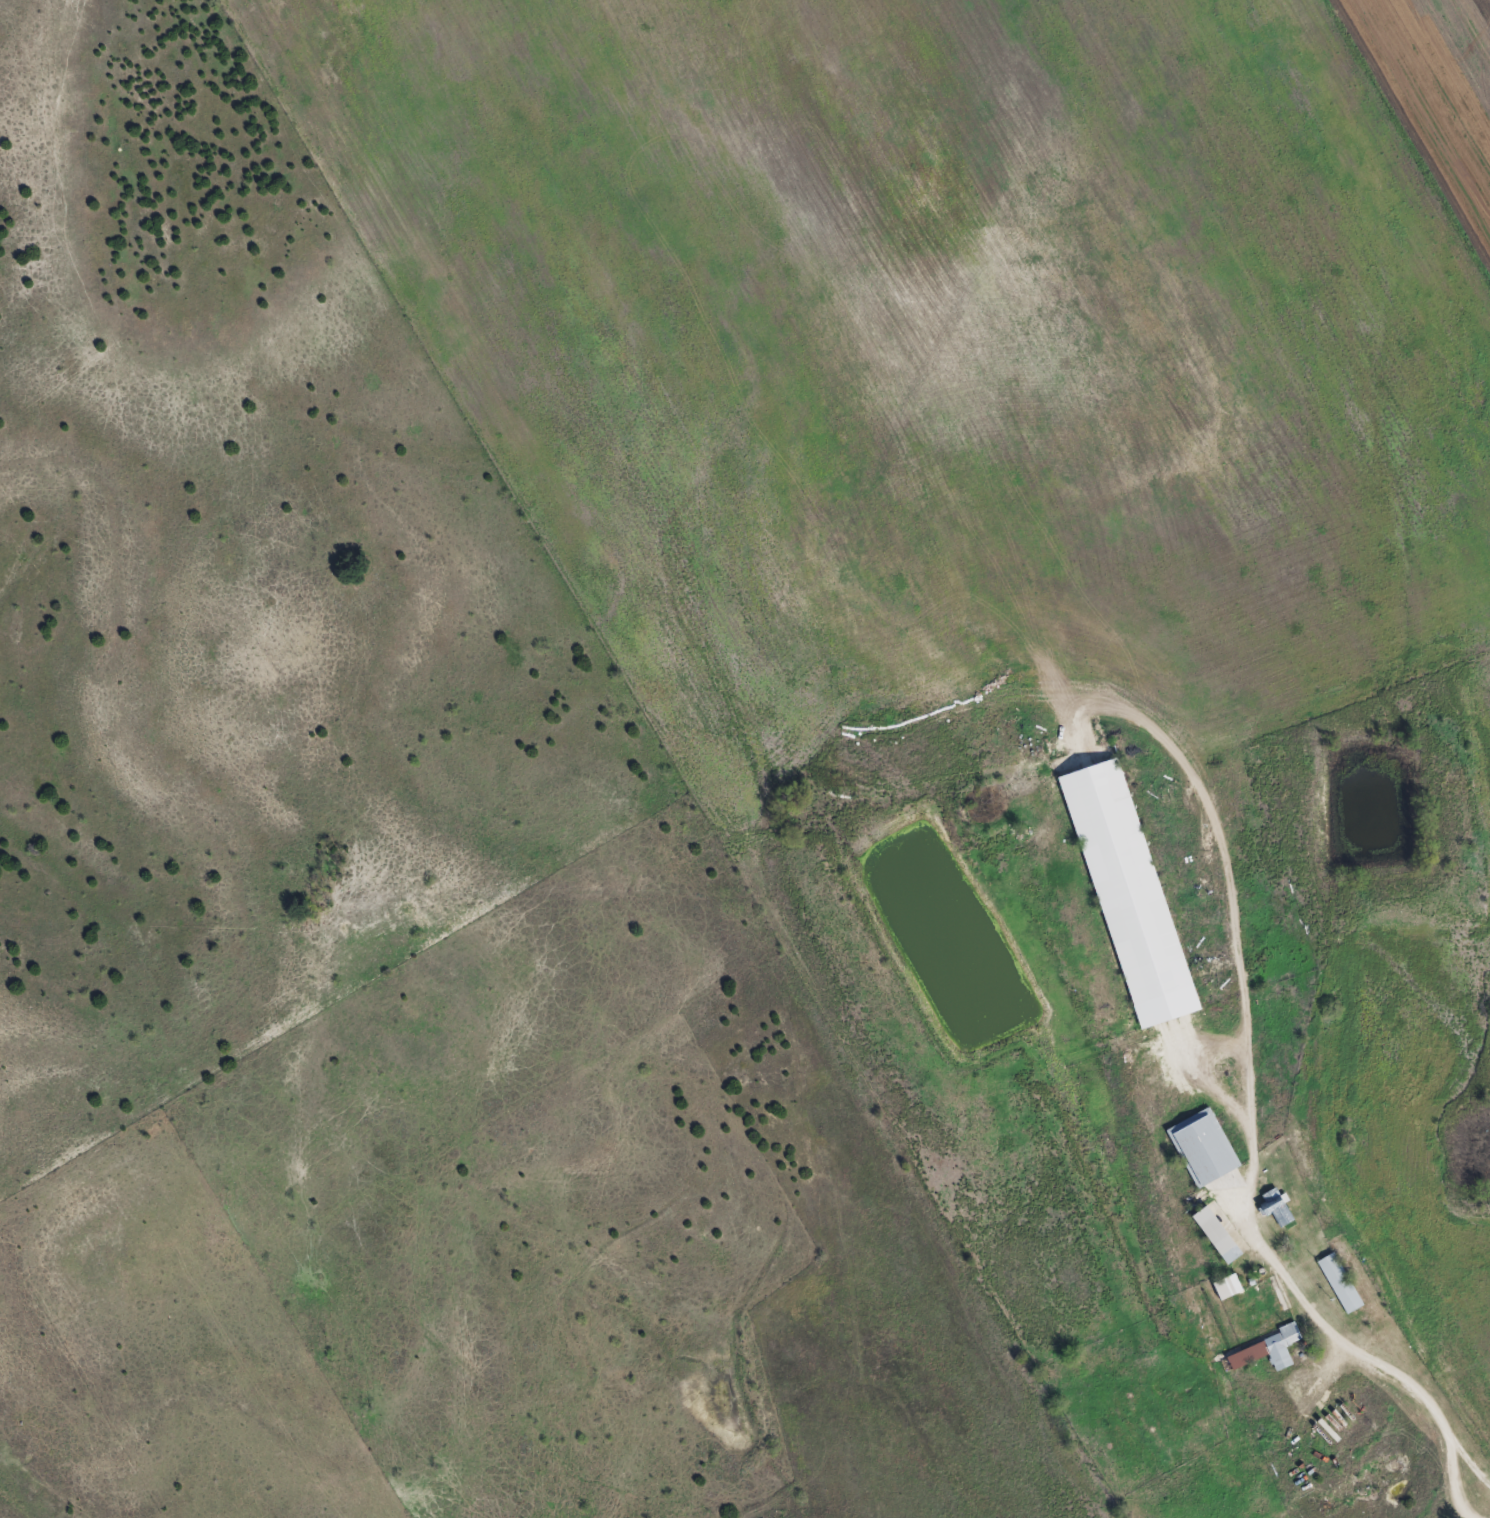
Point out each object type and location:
building: (1130, 894)
building: (1204, 1148)
building: (1278, 1208)
building: (1217, 1236)
building: (1341, 1284)
building: (1228, 1287)
building: (1269, 1351)
road: (1419, 1411)

